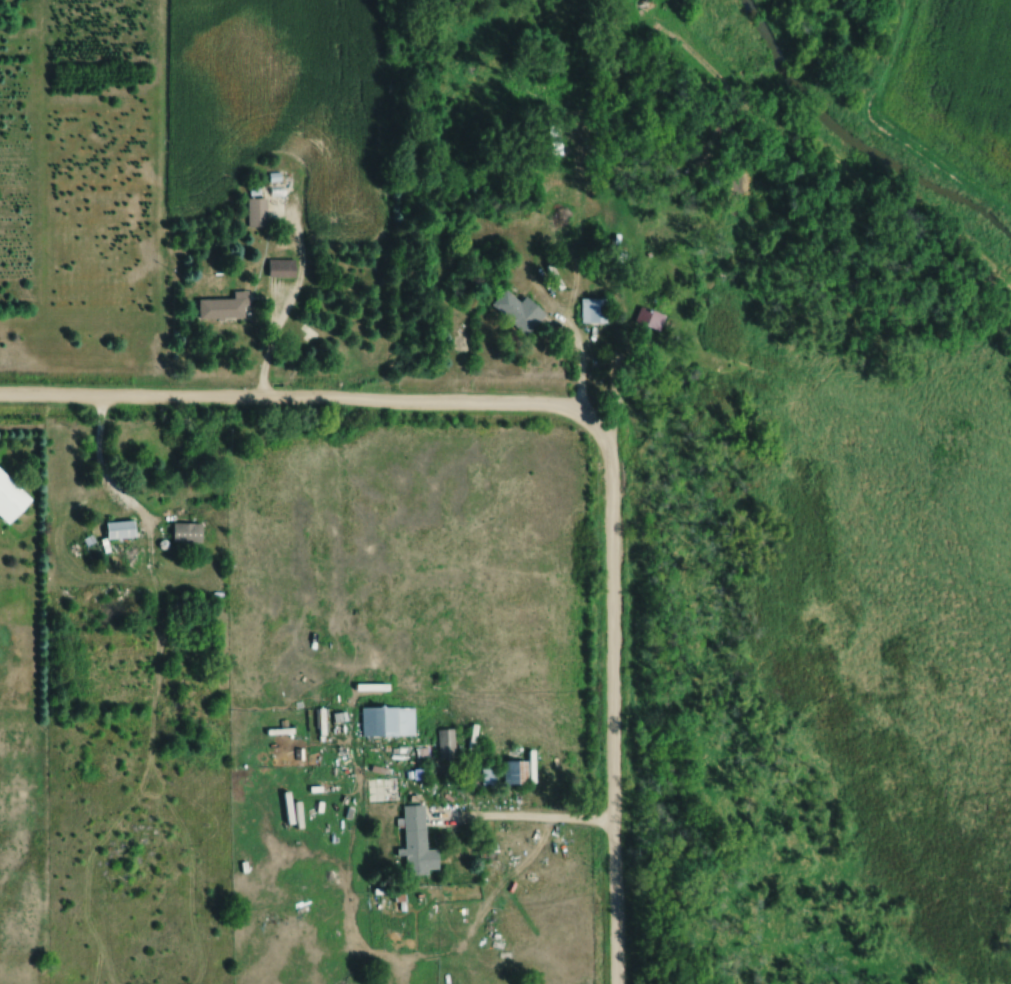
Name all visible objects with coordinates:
building: (255, 213)
building: (279, 269)
building: (223, 307)
building: (591, 311)
building: (515, 312)
building: (647, 319)
road: (275, 334)
road: (581, 379)
road: (576, 416)
road: (103, 475)
building: (14, 497)
building: (115, 531)
building: (185, 533)
building: (390, 722)
building: (444, 743)
building: (518, 771)
road: (519, 819)
building: (414, 842)

